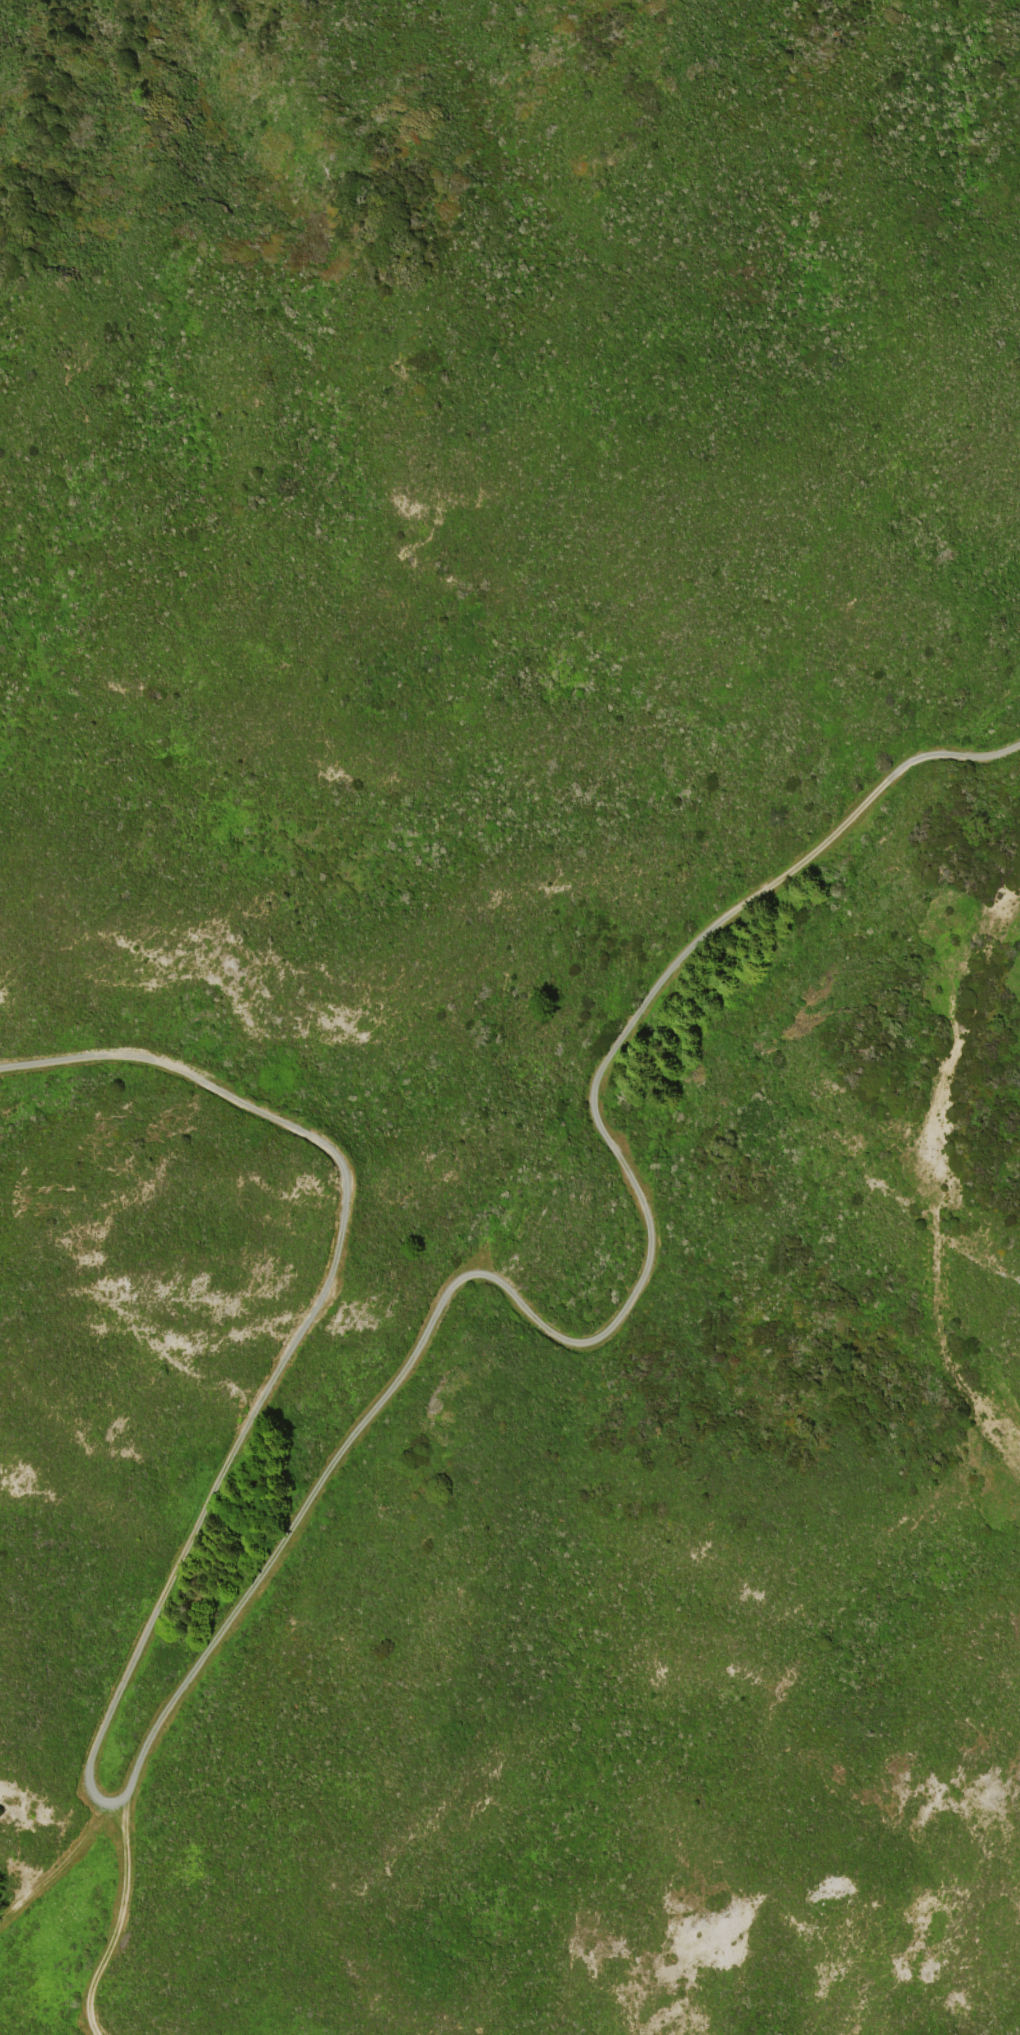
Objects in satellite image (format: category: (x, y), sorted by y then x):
road: (613, 1321)
road: (266, 1391)
road: (114, 1923)

